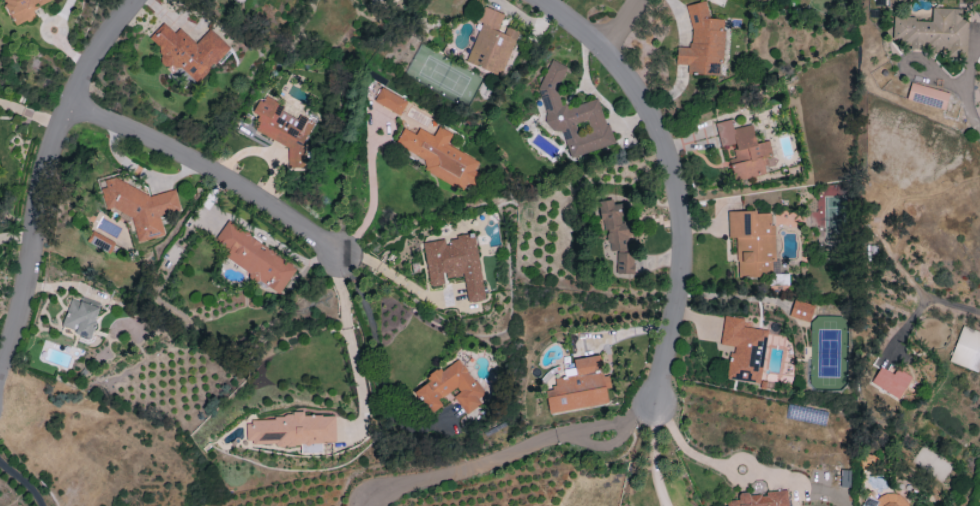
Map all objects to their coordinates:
building: (22, 9)
road: (623, 24)
building: (933, 31)
building: (491, 42)
building: (702, 43)
building: (188, 50)
road: (912, 54)
road: (963, 84)
building: (927, 96)
building: (390, 101)
building: (573, 116)
building: (282, 129)
building: (744, 150)
building: (440, 157)
road: (211, 171)
road: (46, 175)
road: (674, 179)
road: (372, 192)
building: (140, 207)
building: (614, 223)
building: (753, 243)
building: (254, 258)
building: (624, 262)
building: (455, 263)
road: (395, 279)
road: (925, 302)
building: (801, 310)
building: (80, 317)
road: (349, 346)
building: (744, 349)
building: (967, 349)
building: (890, 381)
building: (578, 387)
building: (449, 388)
road: (607, 425)
building: (290, 430)
road: (691, 450)
road: (653, 457)
road: (461, 465)
road: (19, 487)
building: (760, 499)
building: (886, 500)

